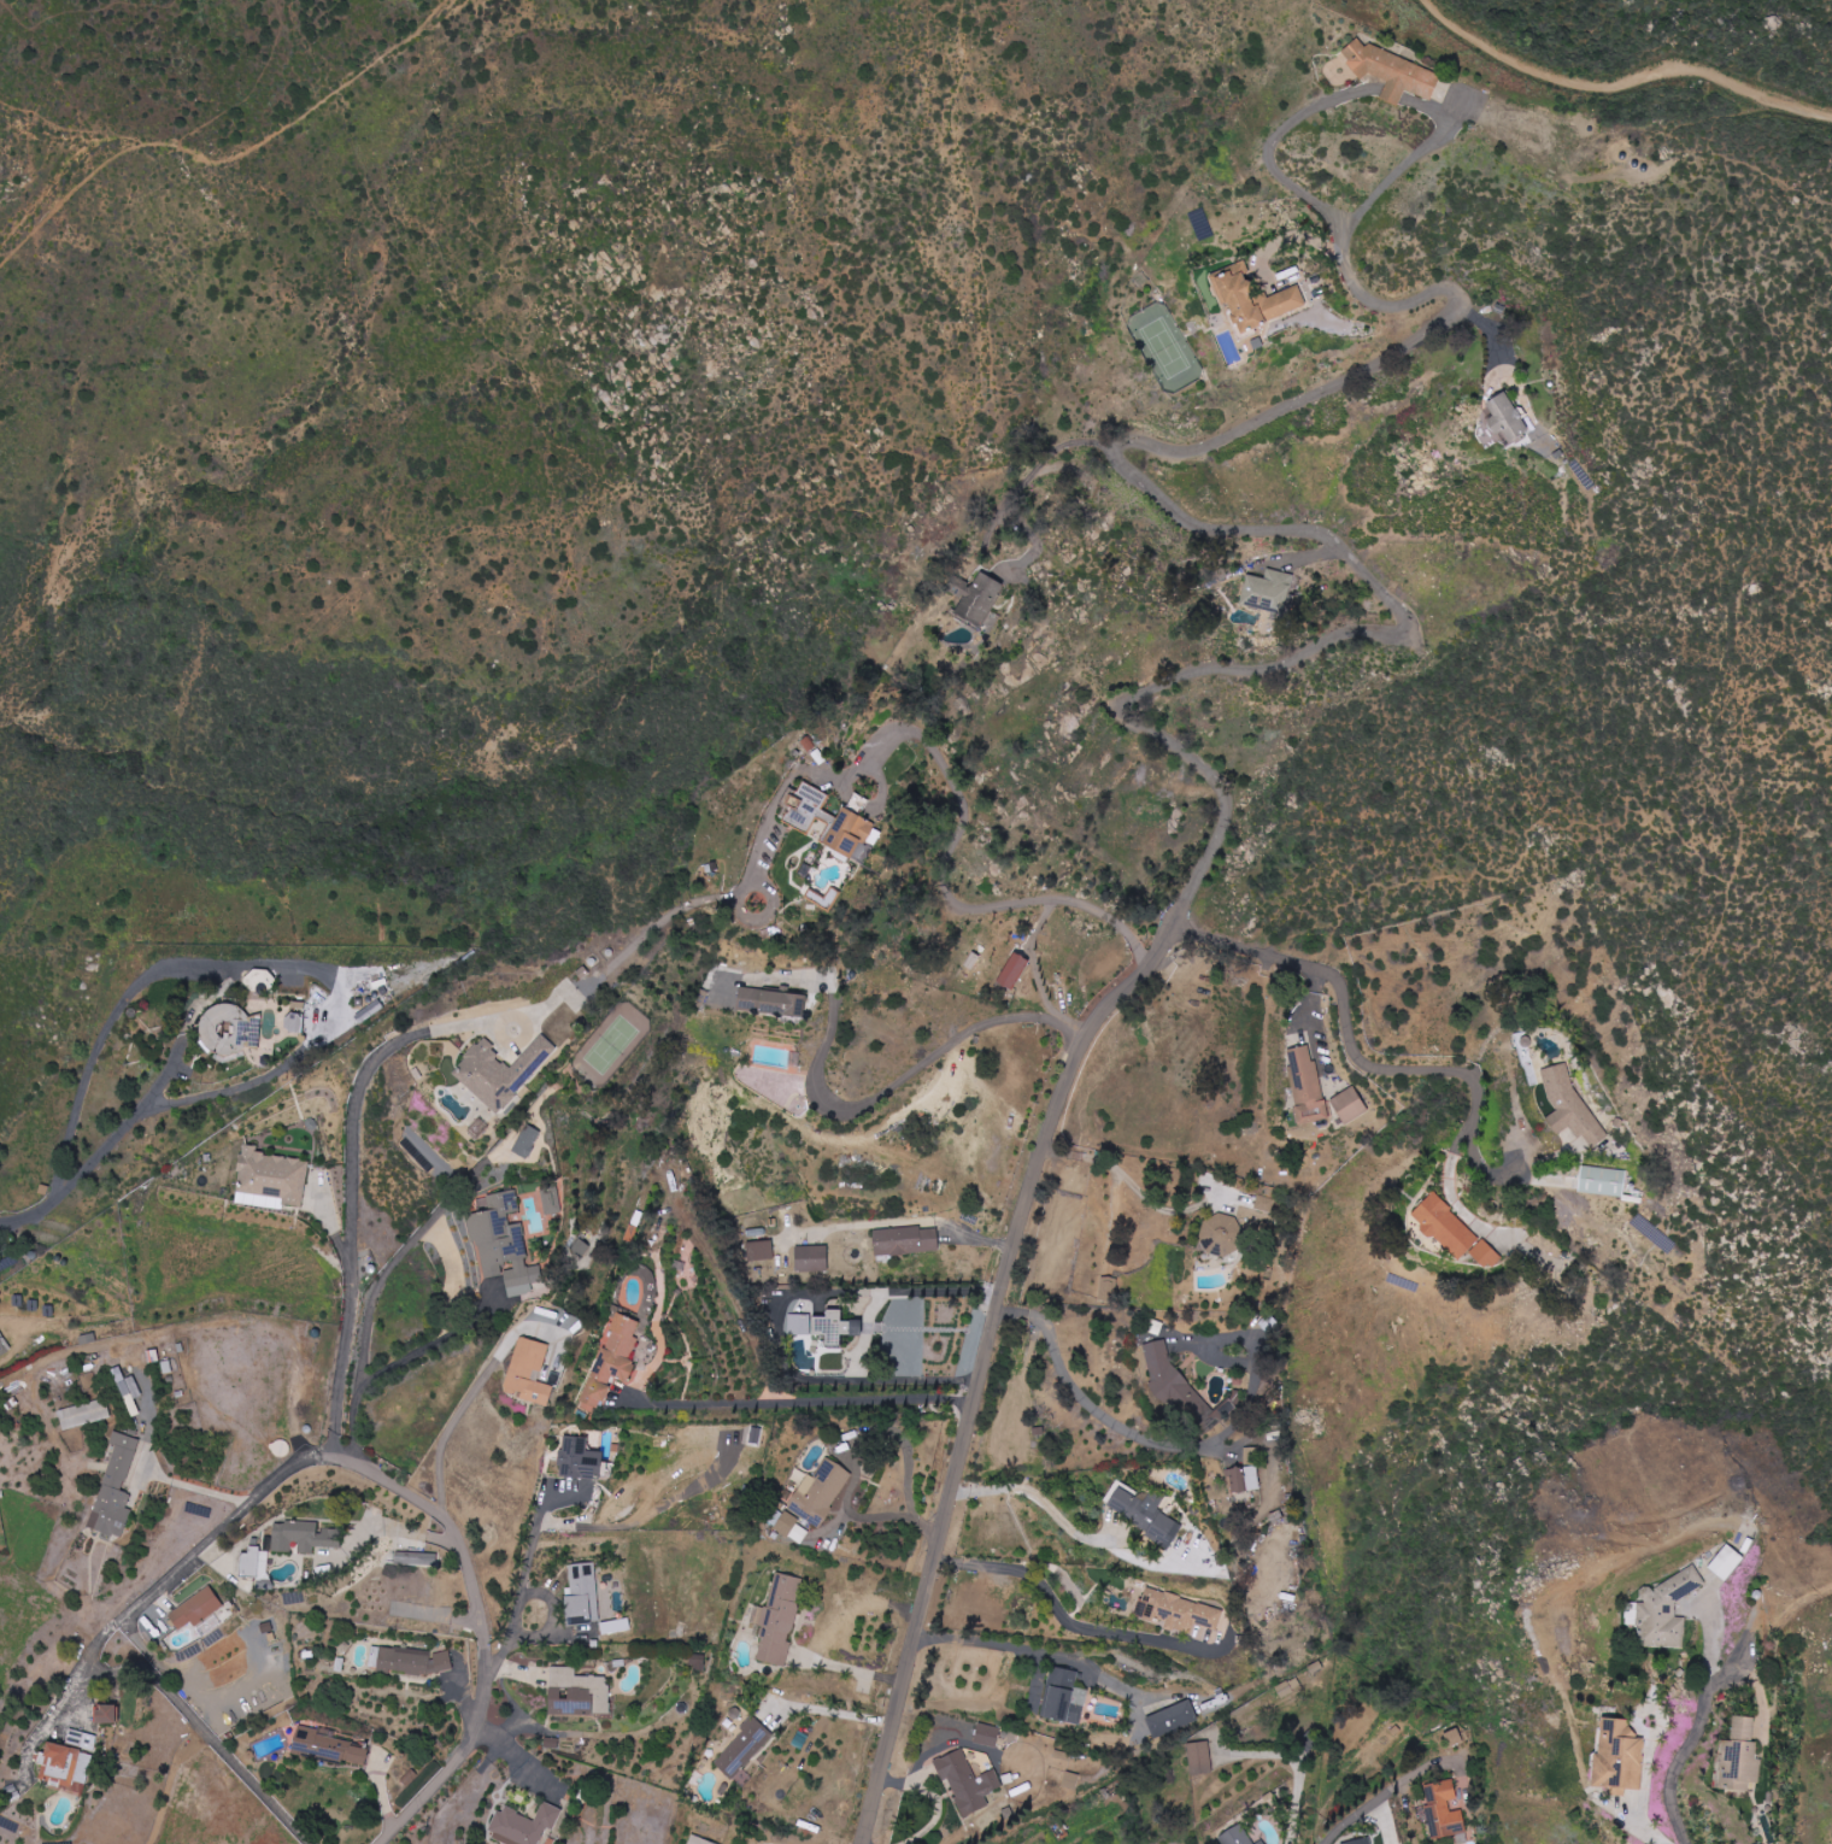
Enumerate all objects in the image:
building: (1391, 71)
road: (1623, 83)
road: (1397, 93)
road: (1284, 136)
road: (1413, 168)
building: (1251, 300)
building: (1504, 419)
road: (1039, 463)
building: (1267, 592)
building: (977, 600)
road: (1128, 717)
building: (827, 820)
road: (949, 899)
road: (663, 920)
road: (252, 964)
building: (1012, 970)
building: (770, 1000)
building: (293, 1021)
building: (225, 1028)
road: (1387, 1068)
building: (500, 1071)
building: (1305, 1084)
road: (871, 1100)
building: (1349, 1105)
building: (1569, 1105)
building: (527, 1141)
road: (1059, 1150)
road: (1078, 1152)
road: (76, 1171)
building: (271, 1176)
building: (1603, 1181)
road: (1454, 1192)
road: (1152, 1199)
building: (551, 1200)
building: (1264, 1204)
road: (906, 1220)
road: (352, 1226)
building: (1452, 1232)
building: (905, 1240)
building: (503, 1245)
building: (581, 1247)
building: (757, 1256)
building: (810, 1258)
building: (1108, 1288)
road: (363, 1312)
building: (799, 1323)
building: (834, 1327)
building: (2, 1345)
building: (611, 1359)
building: (528, 1372)
building: (1172, 1380)
road: (803, 1402)
building: (83, 1414)
road: (451, 1427)
building: (756, 1434)
road: (334, 1438)
road: (1182, 1446)
building: (281, 1447)
road: (855, 1452)
building: (579, 1458)
building: (1245, 1473)
building: (114, 1487)
road: (192, 1487)
building: (820, 1492)
building: (1145, 1514)
road: (1073, 1527)
building: (792, 1528)
building: (303, 1537)
building: (415, 1558)
building: (1726, 1562)
building: (256, 1563)
road: (527, 1575)
road: (152, 1590)
building: (582, 1592)
building: (195, 1609)
road: (480, 1609)
road: (1062, 1609)
building: (1664, 1610)
building: (1176, 1611)
building: (777, 1620)
road: (1000, 1644)
building: (410, 1661)
road: (851, 1668)
building: (1287, 1687)
building: (577, 1692)
building: (1063, 1696)
road: (838, 1710)
building: (105, 1714)
building: (1172, 1719)
road: (206, 1732)
building: (987, 1734)
building: (330, 1749)
building: (744, 1749)
building: (1062, 1755)
building: (1617, 1756)
building: (1742, 1756)
building: (1199, 1757)
building: (69, 1758)
road: (1679, 1762)
building: (1070, 1780)
building: (967, 1783)
road: (1374, 1801)
building: (1445, 1813)
building: (523, 1825)
building: (1234, 1836)
building: (698, 1840)
building: (1261, 1842)
building: (1360, 1842)

